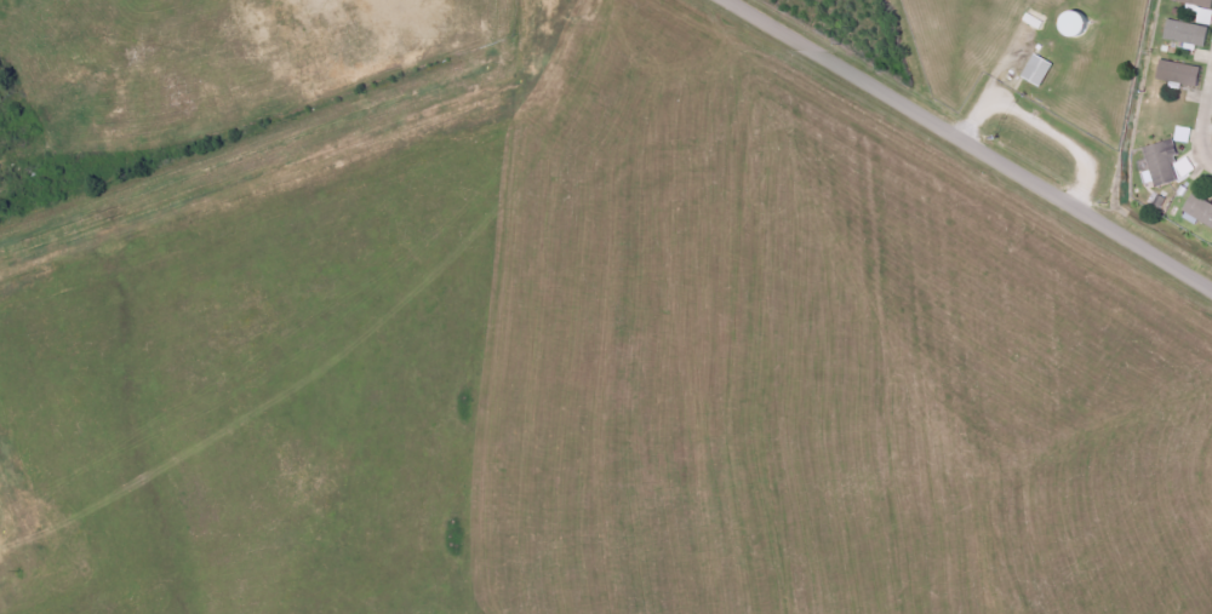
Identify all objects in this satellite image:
building: (1193, 5)
building: (1206, 16)
water tower: (1086, 24)
building: (1188, 33)
road: (840, 69)
building: (1039, 70)
building: (1180, 73)
road: (996, 84)
road: (1206, 121)
building: (1184, 134)
road: (1064, 140)
road: (1207, 155)
building: (1168, 163)
building: (1200, 210)
road: (1084, 216)

